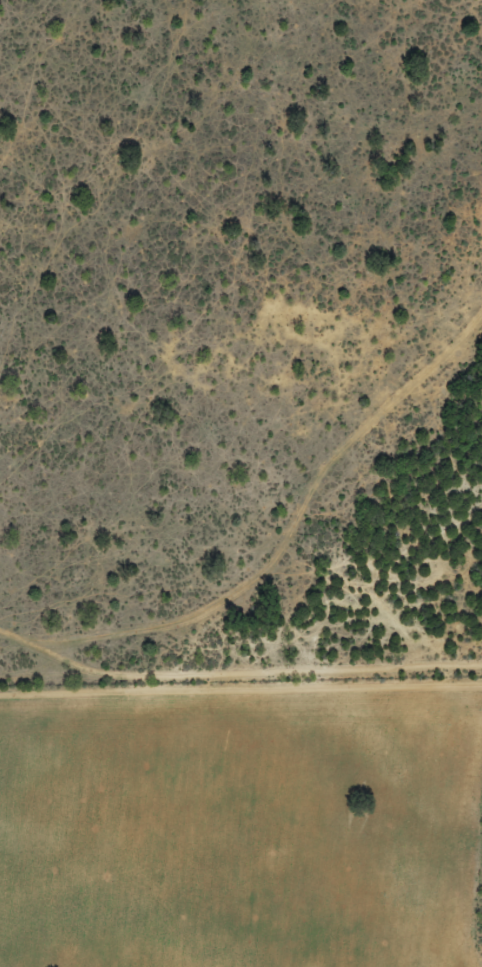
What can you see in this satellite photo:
road: (270, 537)
road: (241, 707)

